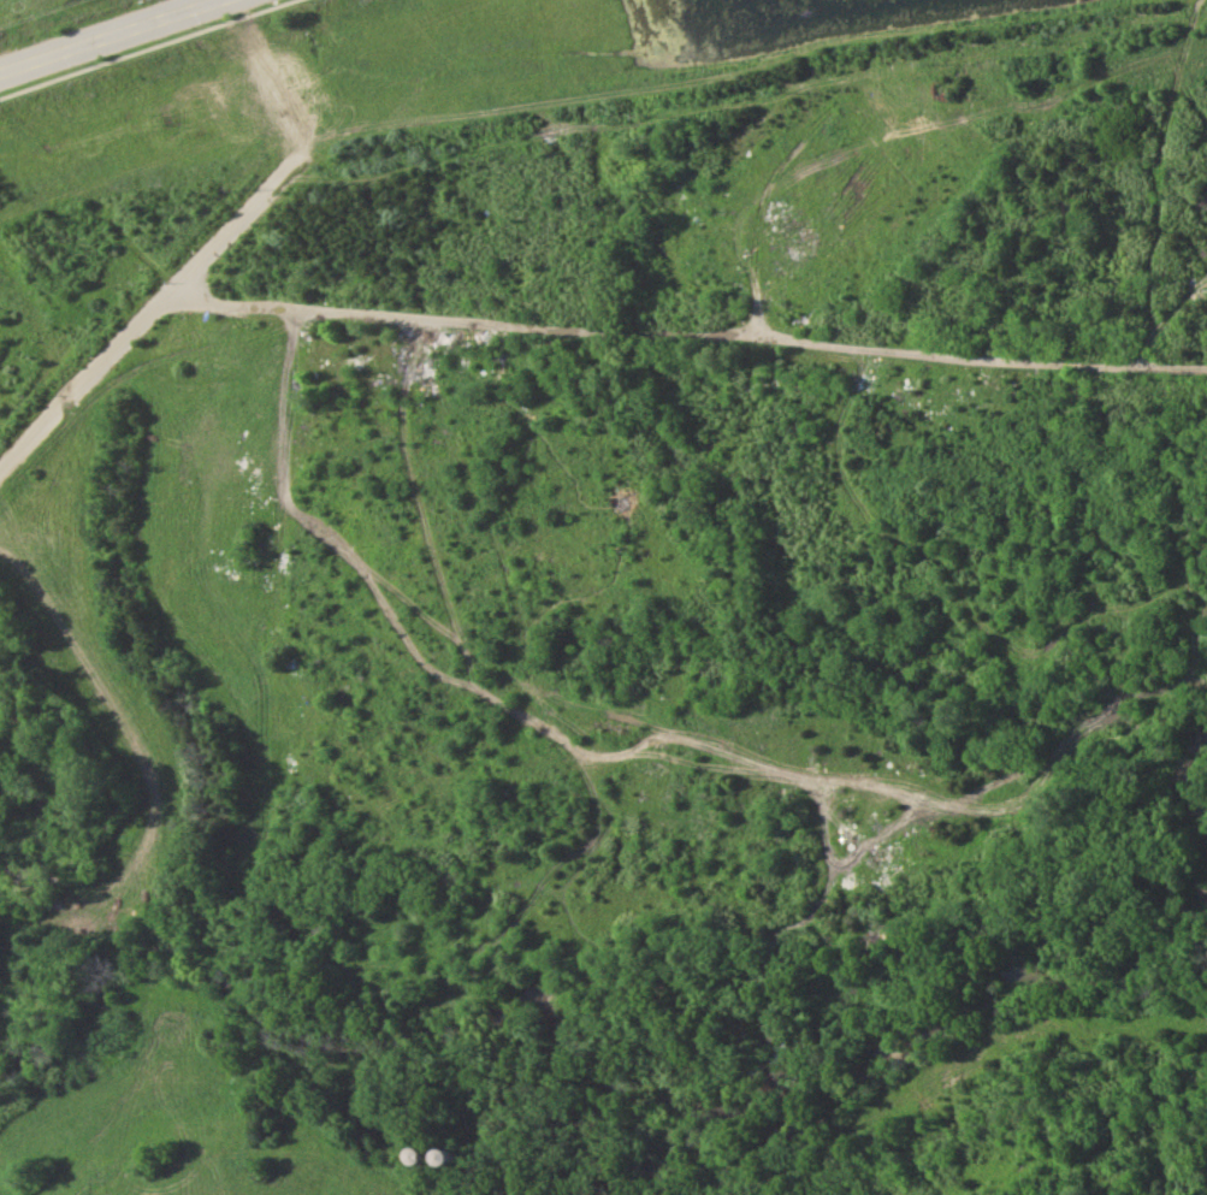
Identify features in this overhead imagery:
road: (105, 36)
road: (14, 885)

